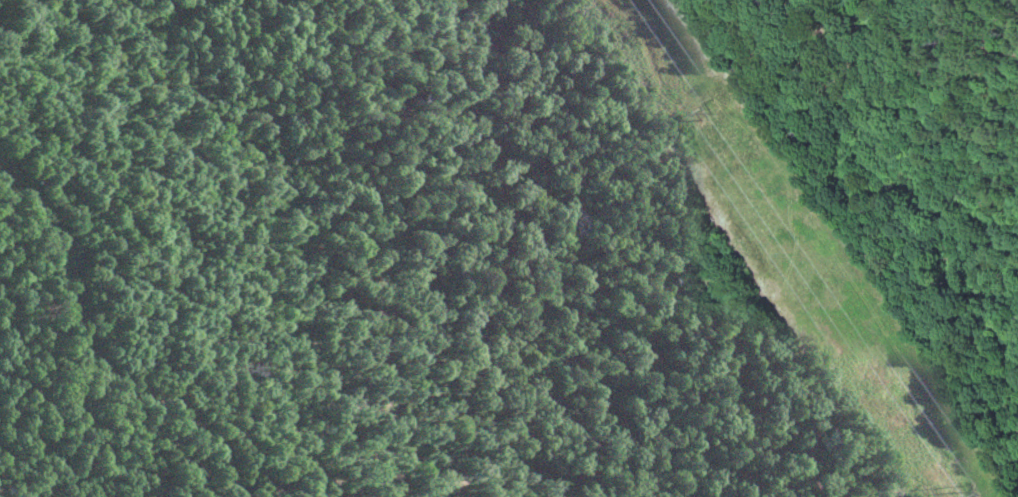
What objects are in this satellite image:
power tower: (709, 116)
power tower: (959, 487)

